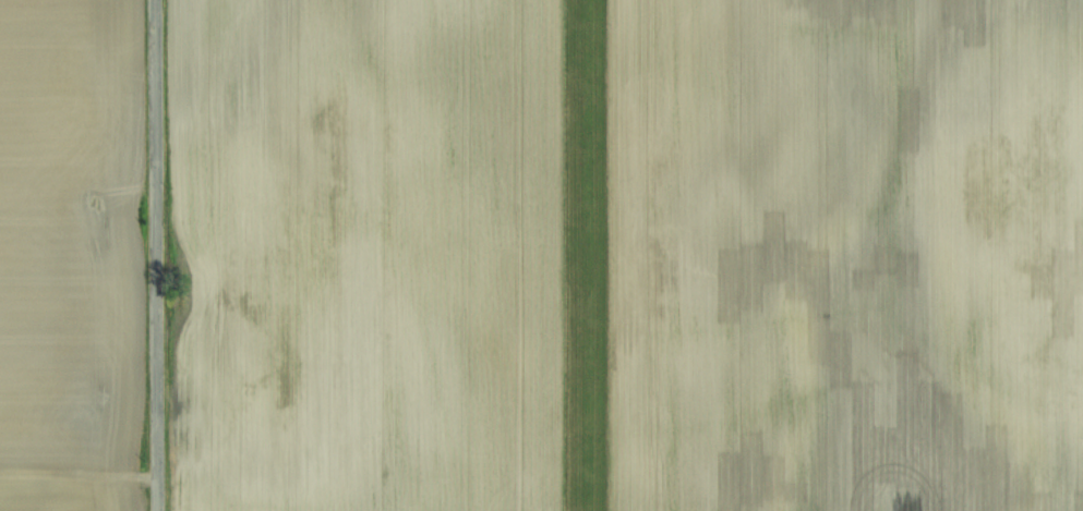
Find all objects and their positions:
road: (157, 255)

